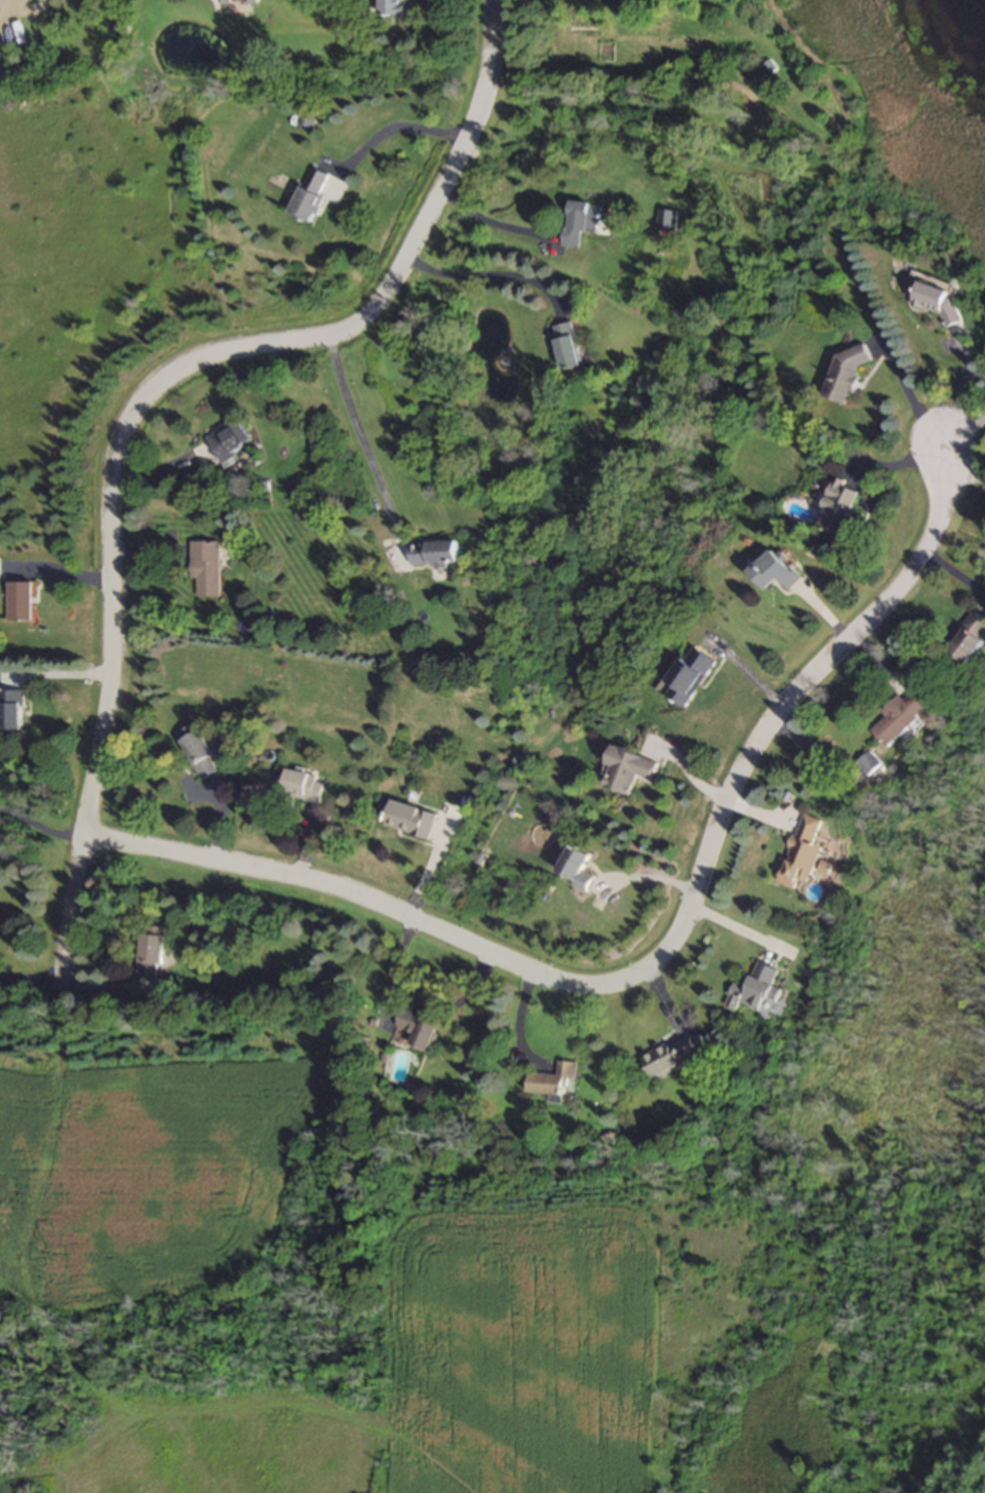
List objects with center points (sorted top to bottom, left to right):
road: (8, 2)
building: (239, 2)
building: (393, 8)
building: (307, 120)
road: (394, 125)
building: (311, 197)
road: (488, 221)
building: (668, 221)
building: (585, 223)
road: (485, 275)
building: (937, 302)
building: (570, 347)
building: (844, 376)
road: (962, 395)
road: (141, 397)
road: (908, 397)
road: (355, 425)
building: (233, 447)
building: (839, 508)
building: (433, 555)
building: (207, 570)
building: (774, 573)
building: (21, 602)
building: (968, 642)
building: (690, 676)
building: (12, 710)
building: (899, 718)
road: (758, 737)
building: (199, 752)
building: (869, 764)
building: (626, 772)
building: (303, 786)
building: (410, 819)
road: (39, 828)
building: (803, 854)
road: (412, 861)
building: (575, 868)
road: (322, 887)
road: (736, 930)
building: (152, 952)
building: (760, 993)
building: (420, 1027)
building: (675, 1055)
building: (554, 1081)

